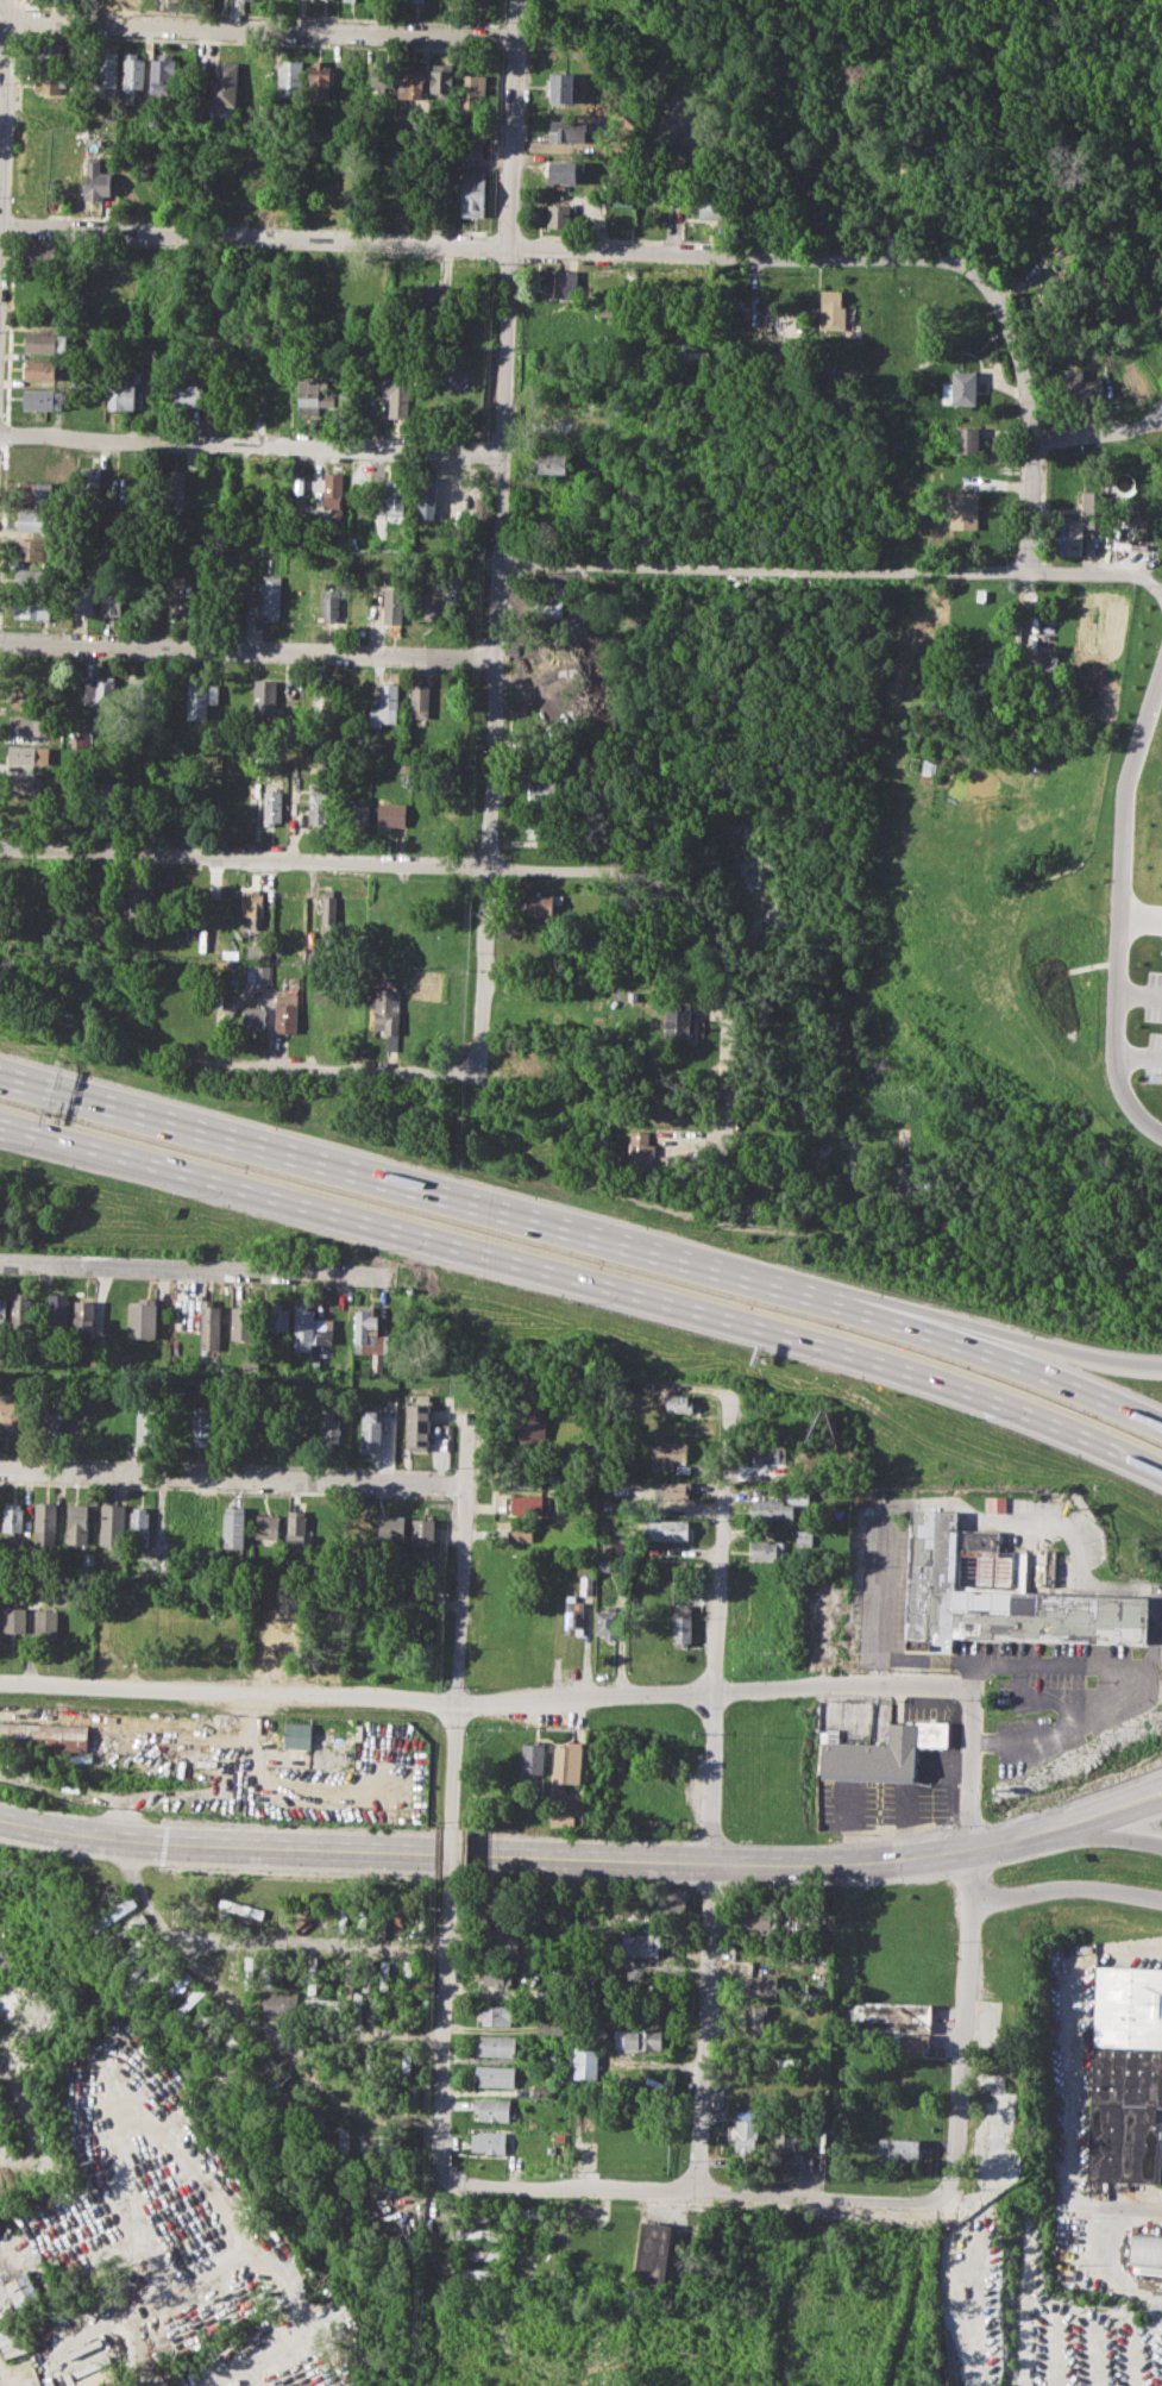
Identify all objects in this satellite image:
building: (348, 0)
building: (416, 0)
building: (478, 0)
building: (255, 1)
building: (573, 13)
road: (258, 29)
building: (56, 55)
park: (1084, 67)
building: (106, 68)
building: (162, 73)
building: (132, 74)
building: (382, 75)
building: (252, 76)
road: (2, 77)
building: (290, 77)
building: (410, 79)
building: (441, 79)
building: (320, 80)
building: (46, 81)
building: (224, 83)
building: (565, 86)
building: (472, 89)
building: (50, 109)
building: (569, 130)
building: (329, 161)
building: (563, 171)
building: (99, 176)
building: (128, 177)
building: (473, 192)
building: (347, 193)
building: (709, 201)
building: (560, 215)
road: (479, 246)
building: (40, 256)
building: (119, 277)
building: (559, 282)
building: (373, 290)
building: (341, 294)
building: (433, 300)
building: (605, 308)
building: (833, 308)
building: (558, 319)
building: (46, 343)
building: (1133, 364)
building: (40, 369)
building: (1080, 382)
building: (965, 387)
building: (120, 388)
building: (276, 392)
building: (310, 394)
building: (183, 395)
building: (398, 397)
building: (43, 399)
road: (1028, 407)
road: (1097, 433)
building: (967, 439)
building: (897, 443)
road: (253, 446)
building: (551, 461)
building: (89, 483)
building: (172, 488)
building: (332, 490)
building: (38, 491)
building: (427, 495)
building: (395, 500)
building: (1093, 508)
building: (963, 511)
building: (37, 521)
road: (503, 538)
building: (36, 550)
road: (833, 569)
building: (37, 578)
building: (176, 595)
building: (83, 596)
building: (112, 596)
building: (266, 596)
building: (435, 603)
building: (332, 605)
building: (394, 605)
building: (34, 606)
road: (1030, 612)
road: (250, 653)
building: (1045, 663)
building: (981, 664)
building: (106, 691)
building: (265, 695)
building: (200, 696)
building: (32, 699)
building: (420, 700)
building: (385, 706)
building: (331, 708)
building: (32, 725)
building: (81, 740)
building: (30, 754)
building: (23, 782)
building: (544, 790)
building: (271, 806)
building: (319, 806)
building: (21, 812)
building: (391, 814)
building: (436, 815)
building: (360, 816)
building: (542, 827)
road: (334, 863)
road: (1117, 894)
building: (542, 903)
building: (329, 907)
building: (255, 908)
building: (259, 951)
building: (258, 972)
road: (1138, 991)
building: (385, 1010)
building: (288, 1012)
road: (728, 1013)
building: (253, 1016)
building: (678, 1023)
road: (271, 1027)
road: (1137, 1053)
building: (534, 1060)
road: (337, 1072)
road: (18, 1132)
road: (779, 1138)
building: (640, 1147)
road: (469, 1204)
road: (199, 1269)
road: (586, 1280)
building: (20, 1311)
building: (56, 1311)
building: (82, 1311)
building: (2, 1314)
building: (277, 1316)
building: (142, 1317)
building: (208, 1323)
building: (241, 1323)
building: (302, 1328)
building: (324, 1330)
building: (369, 1335)
road: (1050, 1344)
building: (250, 1366)
road: (1050, 1378)
building: (677, 1402)
building: (12, 1416)
building: (81, 1419)
building: (52, 1421)
building: (417, 1422)
building: (525, 1426)
building: (202, 1427)
building: (331, 1427)
building: (147, 1428)
building: (371, 1428)
building: (667, 1452)
building: (525, 1477)
road: (232, 1478)
building: (670, 1490)
building: (522, 1504)
building: (998, 1504)
building: (777, 1507)
building: (46, 1516)
building: (12, 1517)
building: (77, 1523)
building: (112, 1524)
building: (191, 1524)
building: (139, 1526)
building: (297, 1526)
building: (234, 1527)
building: (268, 1527)
building: (391, 1527)
building: (671, 1529)
building: (421, 1532)
building: (523, 1532)
building: (804, 1538)
building: (768, 1549)
building: (88, 1559)
building: (168, 1564)
building: (586, 1584)
road: (880, 1591)
building: (998, 1593)
road: (459, 1609)
building: (573, 1615)
building: (14, 1620)
building: (605, 1622)
building: (45, 1623)
building: (682, 1627)
building: (266, 1632)
building: (325, 1635)
road: (1088, 1666)
road: (972, 1677)
road: (1022, 1677)
road: (482, 1701)
road: (1054, 1701)
building: (43, 1735)
building: (296, 1735)
building: (872, 1756)
building: (532, 1759)
building: (566, 1762)
road: (712, 1793)
building: (561, 1818)
road: (1116, 1828)
road: (325, 1847)
road: (452, 1856)
road: (911, 1856)
road: (1066, 1889)
building: (671, 1900)
building: (241, 1908)
building: (115, 1912)
building: (761, 1918)
building: (134, 1922)
building: (398, 1923)
building: (500, 1939)
road: (250, 1942)
road: (967, 1943)
building: (138, 1960)
building: (742, 1965)
building: (495, 1977)
building: (761, 1985)
building: (281, 2004)
building: (494, 2015)
building: (886, 2016)
building: (755, 2018)
building: (549, 2025)
road: (356, 2031)
building: (637, 2039)
building: (496, 2044)
building: (918, 2046)
road: (297, 2060)
building: (406, 2060)
building: (585, 2064)
building: (1125, 2074)
building: (495, 2075)
road: (442, 2084)
building: (491, 2109)
building: (748, 2135)
building: (794, 2140)
building: (488, 2141)
building: (637, 2147)
building: (899, 2148)
road: (693, 2192)
road: (1113, 2205)
building: (473, 2215)
building: (472, 2232)
building: (1145, 2249)
building: (477, 2254)
building: (652, 2254)
road: (1108, 2265)
road: (181, 2274)
building: (477, 2274)
building: (21, 2287)
road: (136, 2343)
building: (98, 2378)

